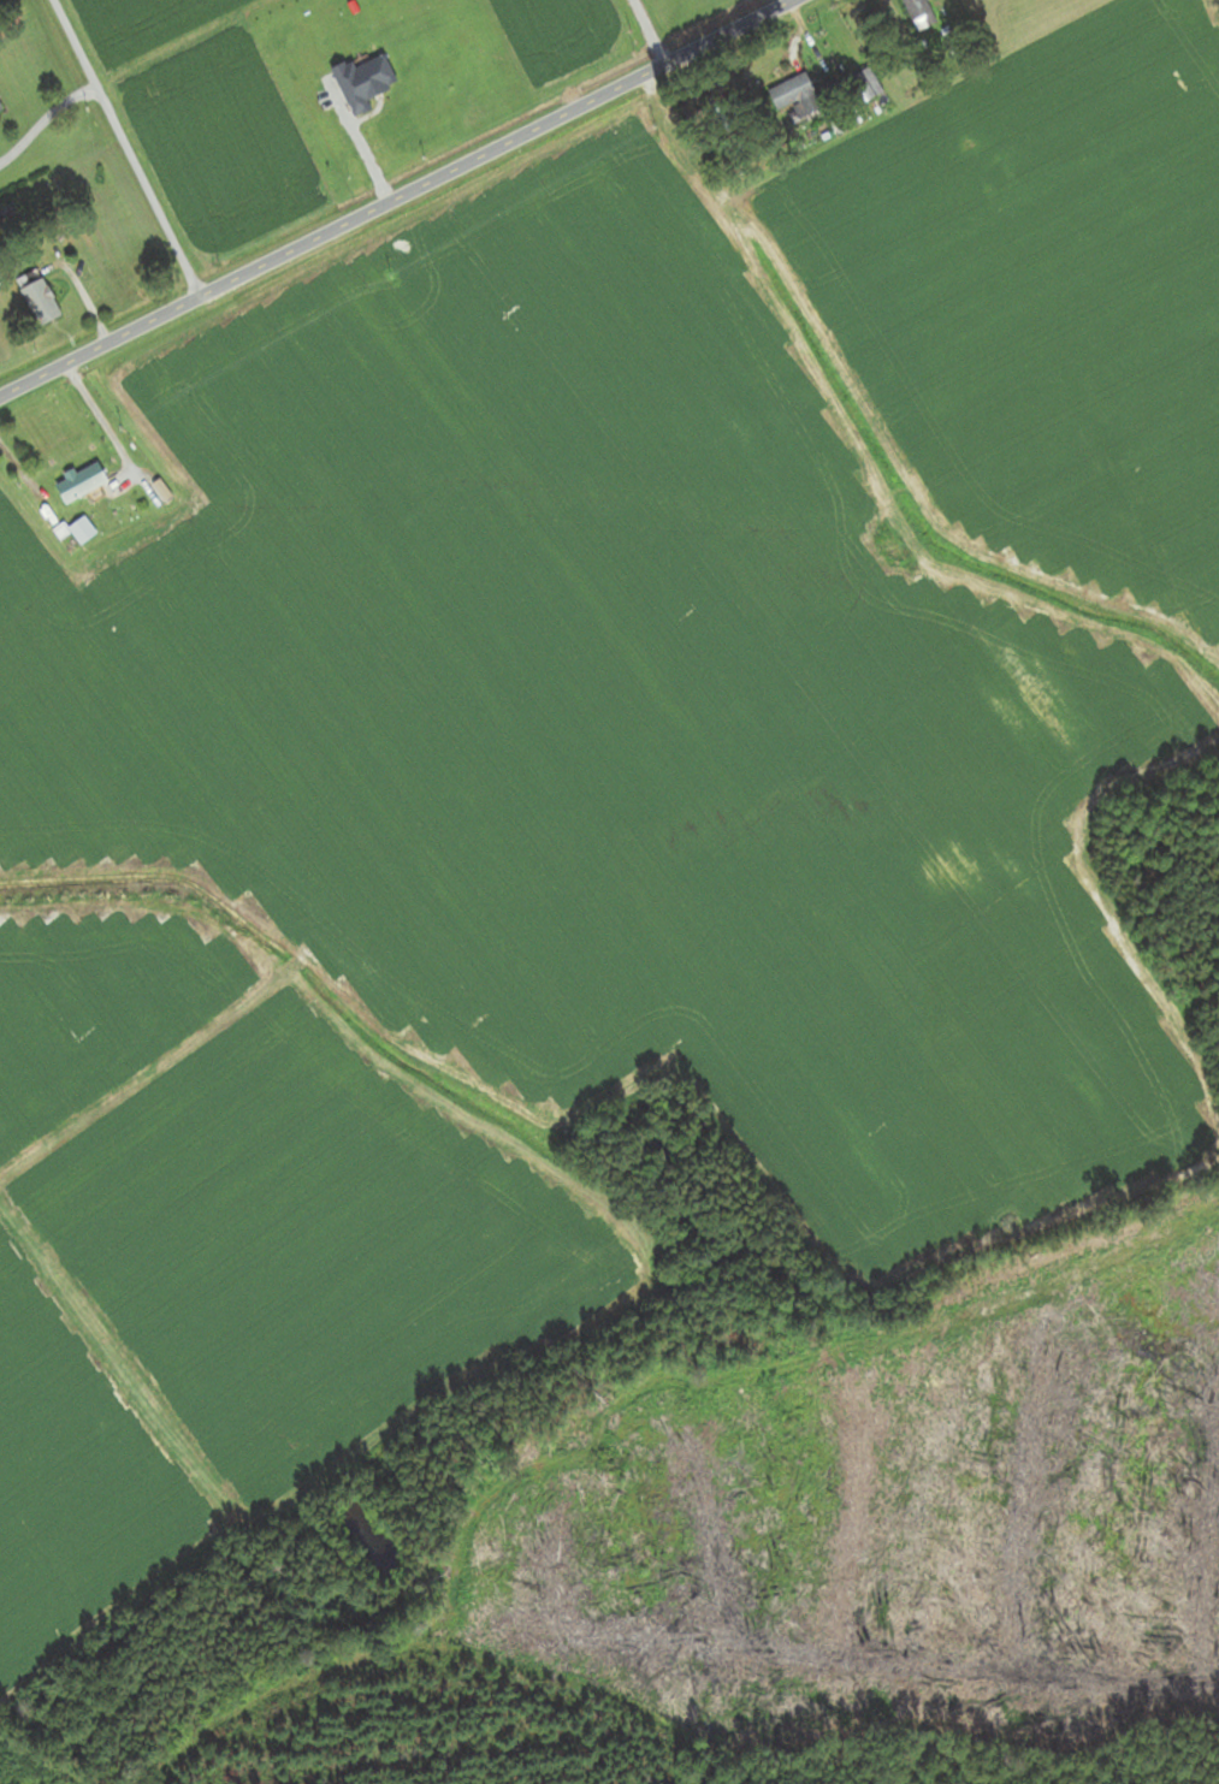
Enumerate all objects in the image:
building: (919, 14)
road: (647, 31)
building: (794, 95)
road: (129, 148)
road: (395, 200)
building: (41, 303)
road: (107, 425)
building: (82, 482)
building: (81, 529)
building: (60, 532)

